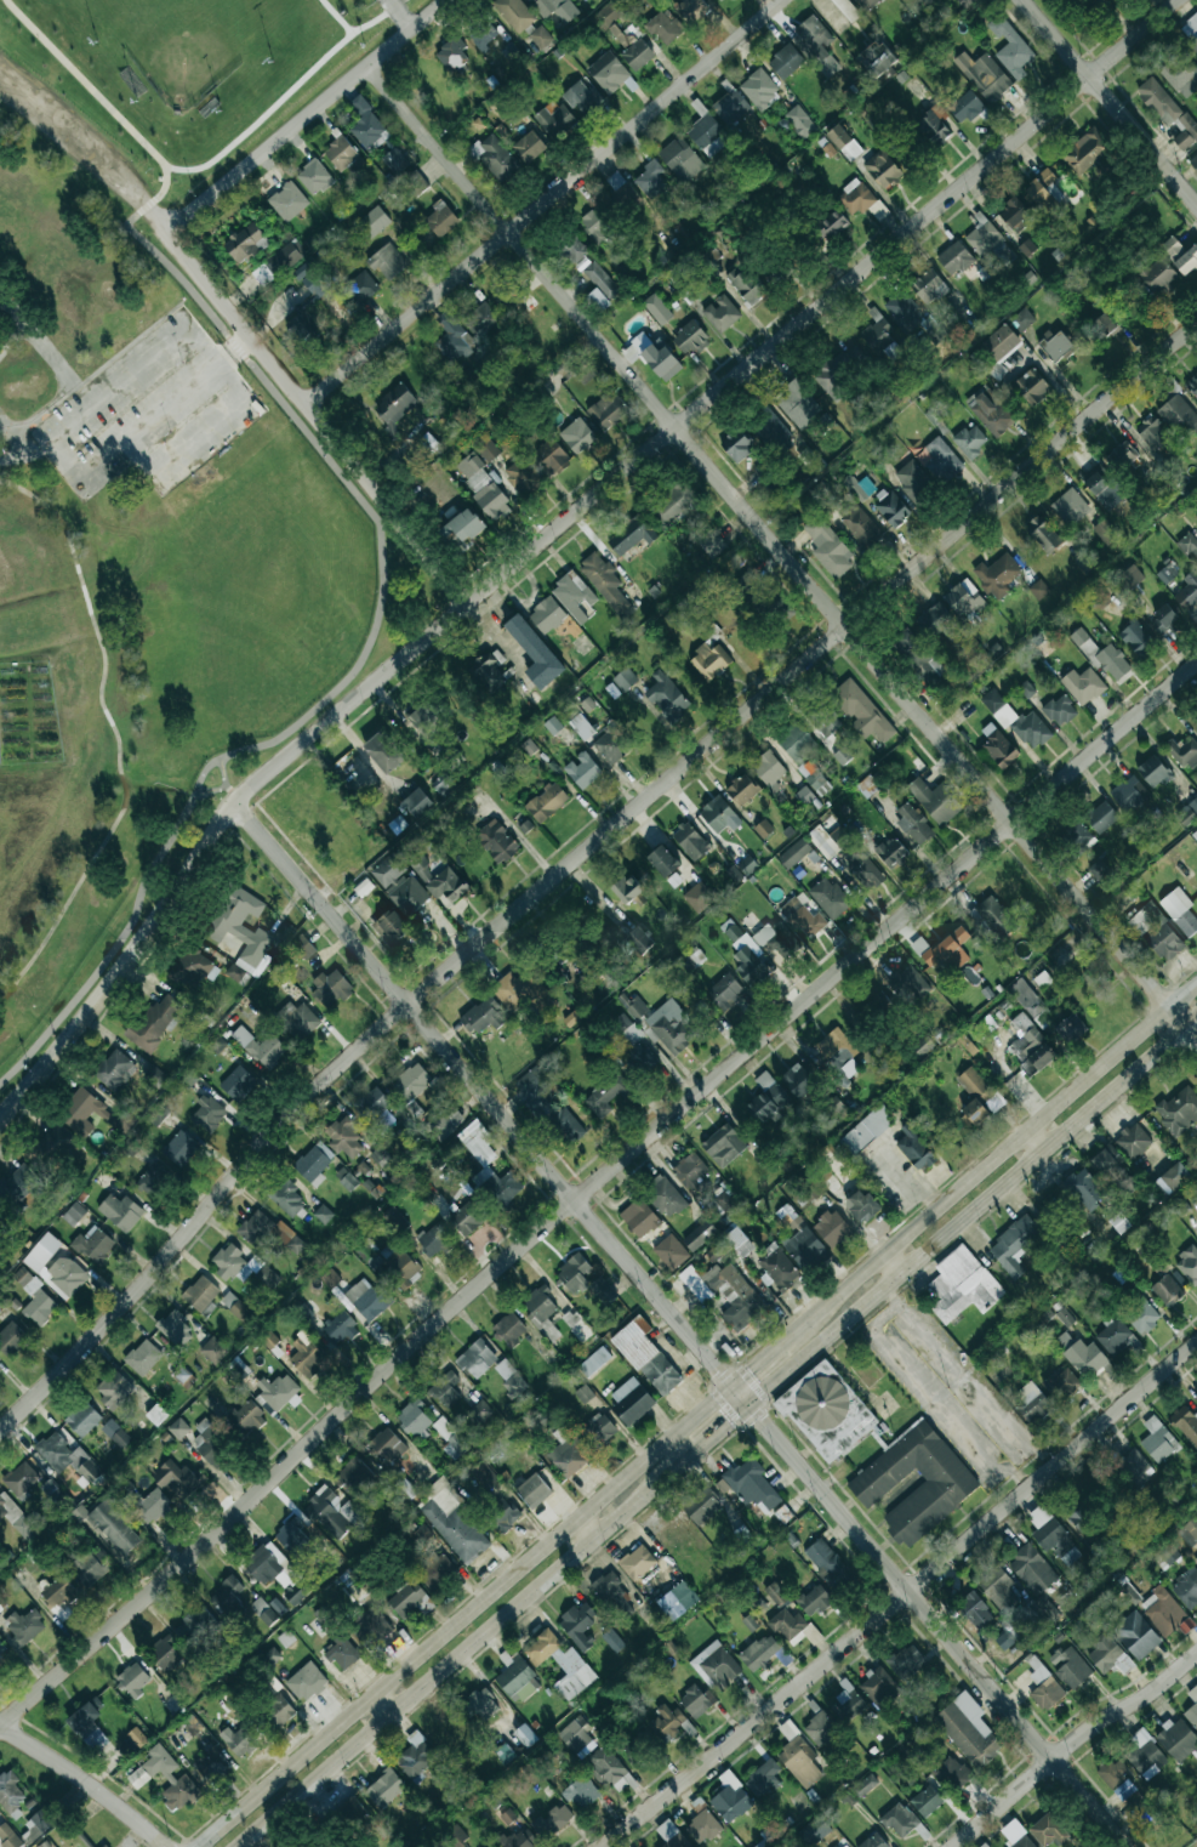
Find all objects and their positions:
building: (717, 0)
building: (1107, 0)
building: (820, 1)
building: (965, 2)
building: (866, 4)
building: (554, 8)
building: (691, 10)
building: (514, 13)
building: (609, 13)
building: (842, 13)
road: (401, 15)
road: (336, 16)
building: (665, 27)
building: (1190, 30)
building: (481, 34)
building: (540, 38)
building: (815, 40)
building: (1010, 47)
building: (508, 52)
building: (635, 52)
building: (451, 55)
building: (786, 59)
building: (876, 59)
building: (608, 72)
road: (307, 74)
building: (984, 75)
building: (1180, 75)
park: (170, 80)
road: (84, 83)
building: (758, 87)
building: (582, 97)
building: (1158, 101)
road: (1110, 102)
building: (965, 107)
building: (731, 108)
road: (308, 118)
building: (552, 118)
building: (798, 121)
building: (366, 125)
building: (934, 125)
building: (1185, 132)
building: (707, 135)
building: (843, 142)
building: (529, 147)
road: (89, 149)
building: (827, 149)
building: (1085, 152)
building: (902, 153)
building: (343, 155)
building: (497, 159)
building: (680, 159)
building: (394, 160)
building: (1195, 161)
road: (192, 169)
building: (882, 169)
building: (314, 177)
building: (650, 178)
building: (415, 183)
building: (620, 188)
road: (161, 189)
building: (1043, 191)
building: (855, 198)
building: (287, 201)
road: (543, 201)
building: (1014, 214)
building: (440, 218)
building: (374, 221)
building: (831, 225)
building: (594, 227)
building: (982, 238)
building: (245, 243)
building: (1026, 248)
building: (571, 251)
building: (1180, 254)
building: (954, 258)
building: (277, 261)
building: (387, 262)
building: (770, 271)
building: (1158, 275)
building: (600, 280)
building: (745, 284)
building: (928, 286)
building: (360, 288)
building: (505, 295)
building: (598, 300)
building: (657, 309)
building: (902, 312)
building: (722, 313)
building: (480, 319)
building: (1022, 319)
building: (1106, 325)
building: (877, 331)
building: (454, 337)
building: (690, 339)
building: (1056, 346)
building: (996, 351)
building: (652, 357)
road: (212, 362)
building: (840, 369)
road: (67, 377)
building: (1192, 385)
building: (1031, 386)
building: (797, 404)
building: (393, 407)
parking lot: (148, 408)
building: (606, 410)
building: (990, 413)
building: (1179, 416)
road: (315, 419)
building: (771, 432)
building: (1151, 433)
building: (577, 436)
road: (126, 441)
building: (970, 441)
building: (736, 445)
building: (486, 448)
building: (1121, 455)
building: (552, 456)
building: (941, 460)
building: (523, 476)
building: (200, 477)
building: (913, 482)
building: (1099, 485)
building: (484, 489)
building: (677, 505)
building: (1070, 507)
building: (891, 508)
building: (860, 525)
road: (558, 527)
building: (463, 528)
building: (1043, 534)
building: (631, 535)
building: (1189, 544)
building: (712, 545)
building: (828, 547)
road: (782, 552)
building: (1165, 574)
building: (997, 575)
building: (1129, 578)
building: (605, 582)
building: (1038, 589)
building: (759, 592)
building: (1187, 593)
building: (575, 596)
building: (1100, 597)
building: (964, 599)
building: (547, 615)
building: (1163, 620)
building: (936, 623)
building: (1136, 638)
building: (905, 643)
building: (535, 653)
building: (1101, 655)
building: (708, 660)
building: (928, 669)
building: (488, 670)
building: (625, 680)
building: (1083, 686)
building: (612, 691)
building: (667, 697)
building: (587, 704)
building: (1059, 710)
building: (861, 711)
building: (1016, 720)
building: (581, 727)
building: (796, 743)
building: (611, 745)
building: (998, 746)
building: (383, 751)
building: (1182, 751)
building: (842, 756)
road: (365, 758)
building: (582, 769)
building: (768, 769)
building: (1153, 772)
building: (814, 778)
building: (870, 784)
building: (742, 790)
building: (1129, 794)
building: (804, 796)
building: (934, 801)
building: (417, 802)
building: (546, 802)
building: (1189, 813)
building: (719, 815)
building: (1101, 818)
building: (397, 824)
building: (828, 824)
building: (913, 824)
building: (525, 826)
building: (763, 828)
building: (1077, 835)
building: (1195, 835)
building: (496, 841)
building: (690, 841)
building: (891, 852)
building: (794, 853)
building: (845, 853)
road: (577, 857)
building: (665, 864)
building: (745, 866)
building: (1099, 869)
building: (439, 880)
building: (400, 885)
building: (363, 887)
building: (627, 888)
building: (697, 896)
building: (828, 897)
building: (1180, 910)
building: (803, 915)
building: (994, 919)
building: (391, 927)
building: (243, 930)
building: (1155, 931)
building: (639, 939)
building: (776, 940)
building: (918, 945)
building: (303, 948)
building: (947, 948)
building: (745, 953)
building: (192, 968)
building: (908, 984)
building: (329, 987)
building: (724, 990)
building: (523, 991)
building: (1028, 1001)
building: (880, 1002)
building: (635, 1007)
building: (483, 1016)
building: (300, 1019)
building: (154, 1022)
building: (671, 1027)
building: (1071, 1028)
building: (633, 1033)
building: (260, 1046)
building: (1030, 1046)
building: (836, 1048)
building: (640, 1061)
building: (114, 1070)
building: (155, 1076)
building: (799, 1081)
building: (238, 1084)
building: (411, 1086)
building: (535, 1091)
road: (485, 1092)
building: (606, 1096)
building: (974, 1097)
building: (766, 1098)
building: (374, 1109)
building: (1179, 1109)
building: (207, 1113)
building: (85, 1114)
building: (444, 1121)
building: (566, 1126)
building: (866, 1130)
building: (343, 1137)
road: (1034, 1140)
building: (57, 1141)
building: (1133, 1142)
building: (723, 1146)
building: (181, 1147)
building: (914, 1150)
road: (997, 1156)
building: (1102, 1161)
building: (314, 1164)
building: (689, 1171)
building: (490, 1173)
building: (1172, 1178)
building: (346, 1180)
building: (153, 1181)
road: (591, 1187)
building: (18, 1188)
building: (820, 1188)
building: (1084, 1189)
building: (286, 1198)
building: (665, 1198)
building: (861, 1206)
building: (1180, 1207)
road: (974, 1210)
building: (120, 1211)
building: (1, 1214)
building: (74, 1214)
building: (323, 1214)
building: (785, 1214)
building: (395, 1218)
building: (639, 1218)
building: (467, 1220)
building: (1119, 1223)
building: (832, 1228)
building: (269, 1232)
building: (695, 1238)
building: (437, 1239)
building: (739, 1240)
building: (93, 1244)
building: (1014, 1246)
building: (805, 1249)
building: (671, 1252)
road: (895, 1261)
building: (1187, 1263)
building: (55, 1267)
building: (243, 1267)
building: (777, 1267)
building: (404, 1272)
building: (574, 1273)
building: (330, 1279)
building: (962, 1285)
building: (1167, 1290)
building: (602, 1291)
building: (200, 1294)
building: (725, 1294)
building: (34, 1297)
building: (367, 1300)
building: (238, 1308)
building: (540, 1308)
building: (1141, 1314)
building: (341, 1328)
road: (919, 1328)
building: (175, 1329)
building: (509, 1329)
building: (1115, 1337)
building: (11, 1339)
road: (884, 1347)
building: (212, 1349)
building: (306, 1356)
building: (142, 1357)
building: (646, 1357)
road: (764, 1357)
building: (1083, 1357)
building: (475, 1359)
building: (503, 1369)
traffic signals: (733, 1385)
building: (1060, 1385)
building: (445, 1388)
building: (113, 1389)
building: (583, 1393)
building: (278, 1396)
road: (742, 1396)
building: (1195, 1398)
building: (631, 1400)
building: (1031, 1403)
traffic signals: (752, 1406)
building: (479, 1413)
building: (826, 1413)
building: (156, 1415)
building: (247, 1416)
building: (414, 1417)
road: (1004, 1417)
building: (82, 1419)
building: (1186, 1423)
building: (178, 1428)
building: (598, 1430)
building: (115, 1433)
building: (449, 1438)
building: (1157, 1439)
road: (709, 1443)
road: (973, 1443)
building: (210, 1445)
building: (387, 1445)
building: (67, 1455)
building: (569, 1456)
building: (1135, 1467)
building: (354, 1476)
building: (21, 1479)
building: (175, 1479)
building: (950, 1482)
building: (749, 1485)
building: (532, 1490)
building: (701, 1506)
building: (331, 1512)
building: (1079, 1514)
building: (501, 1516)
building: (16, 1519)
building: (451, 1521)
building: (114, 1527)
road: (586, 1529)
building: (1189, 1531)
building: (291, 1536)
building: (1165, 1556)
building: (637, 1562)
building: (1196, 1562)
building: (827, 1564)
building: (91, 1567)
building: (435, 1568)
building: (1032, 1569)
building: (273, 1570)
building: (1186, 1587)
building: (998, 1590)
building: (58, 1592)
building: (227, 1595)
building: (775, 1595)
building: (1130, 1595)
building: (614, 1596)
road: (901, 1597)
building: (409, 1599)
building: (677, 1601)
building: (814, 1601)
building: (0, 1608)
building: (974, 1610)
building: (1039, 1610)
building: (263, 1612)
building: (1164, 1612)
building: (321, 1615)
road: (463, 1615)
building: (749, 1622)
building: (199, 1624)
building: (787, 1624)
building: (370, 1625)
building: (578, 1625)
building: (23, 1626)
road: (936, 1627)
building: (1135, 1635)
building: (1005, 1637)
building: (612, 1641)
building: (2, 1650)
building: (759, 1652)
building: (165, 1653)
building: (342, 1653)
building: (1107, 1654)
building: (906, 1661)
road: (454, 1663)
building: (562, 1664)
building: (716, 1666)
building: (1072, 1669)
building: (132, 1680)
building: (517, 1680)
building: (307, 1682)
building: (1043, 1684)
building: (879, 1687)
building: (696, 1701)
road: (384, 1704)
building: (847, 1704)
building: (480, 1705)
building: (1192, 1707)
building: (279, 1711)
building: (667, 1723)
building: (86, 1724)
building: (820, 1728)
building: (968, 1729)
building: (525, 1735)
building: (575, 1738)
building: (136, 1739)
building: (1178, 1739)
building: (240, 1741)
road: (1071, 1745)
building: (635, 1751)
building: (1145, 1755)
building: (415, 1756)
building: (798, 1757)
building: (210, 1764)
building: (608, 1768)
building: (1112, 1772)
building: (951, 1774)
building: (166, 1778)
building: (763, 1779)
road: (86, 1783)
building: (865, 1785)
building: (384, 1788)
building: (1124, 1790)
building: (10, 1791)
building: (581, 1792)
building: (729, 1797)
building: (925, 1801)
building: (352, 1811)
building: (899, 1820)
building: (552, 1822)
building: (38, 1825)
building: (702, 1826)
building: (814, 1830)
building: (1048, 1830)
building: (671, 1835)
building: (1014, 1835)
building: (8, 1837)
building: (456, 1837)
building: (874, 1841)
building: (985, 1845)
building: (104, 1846)
building: (782, 1846)

